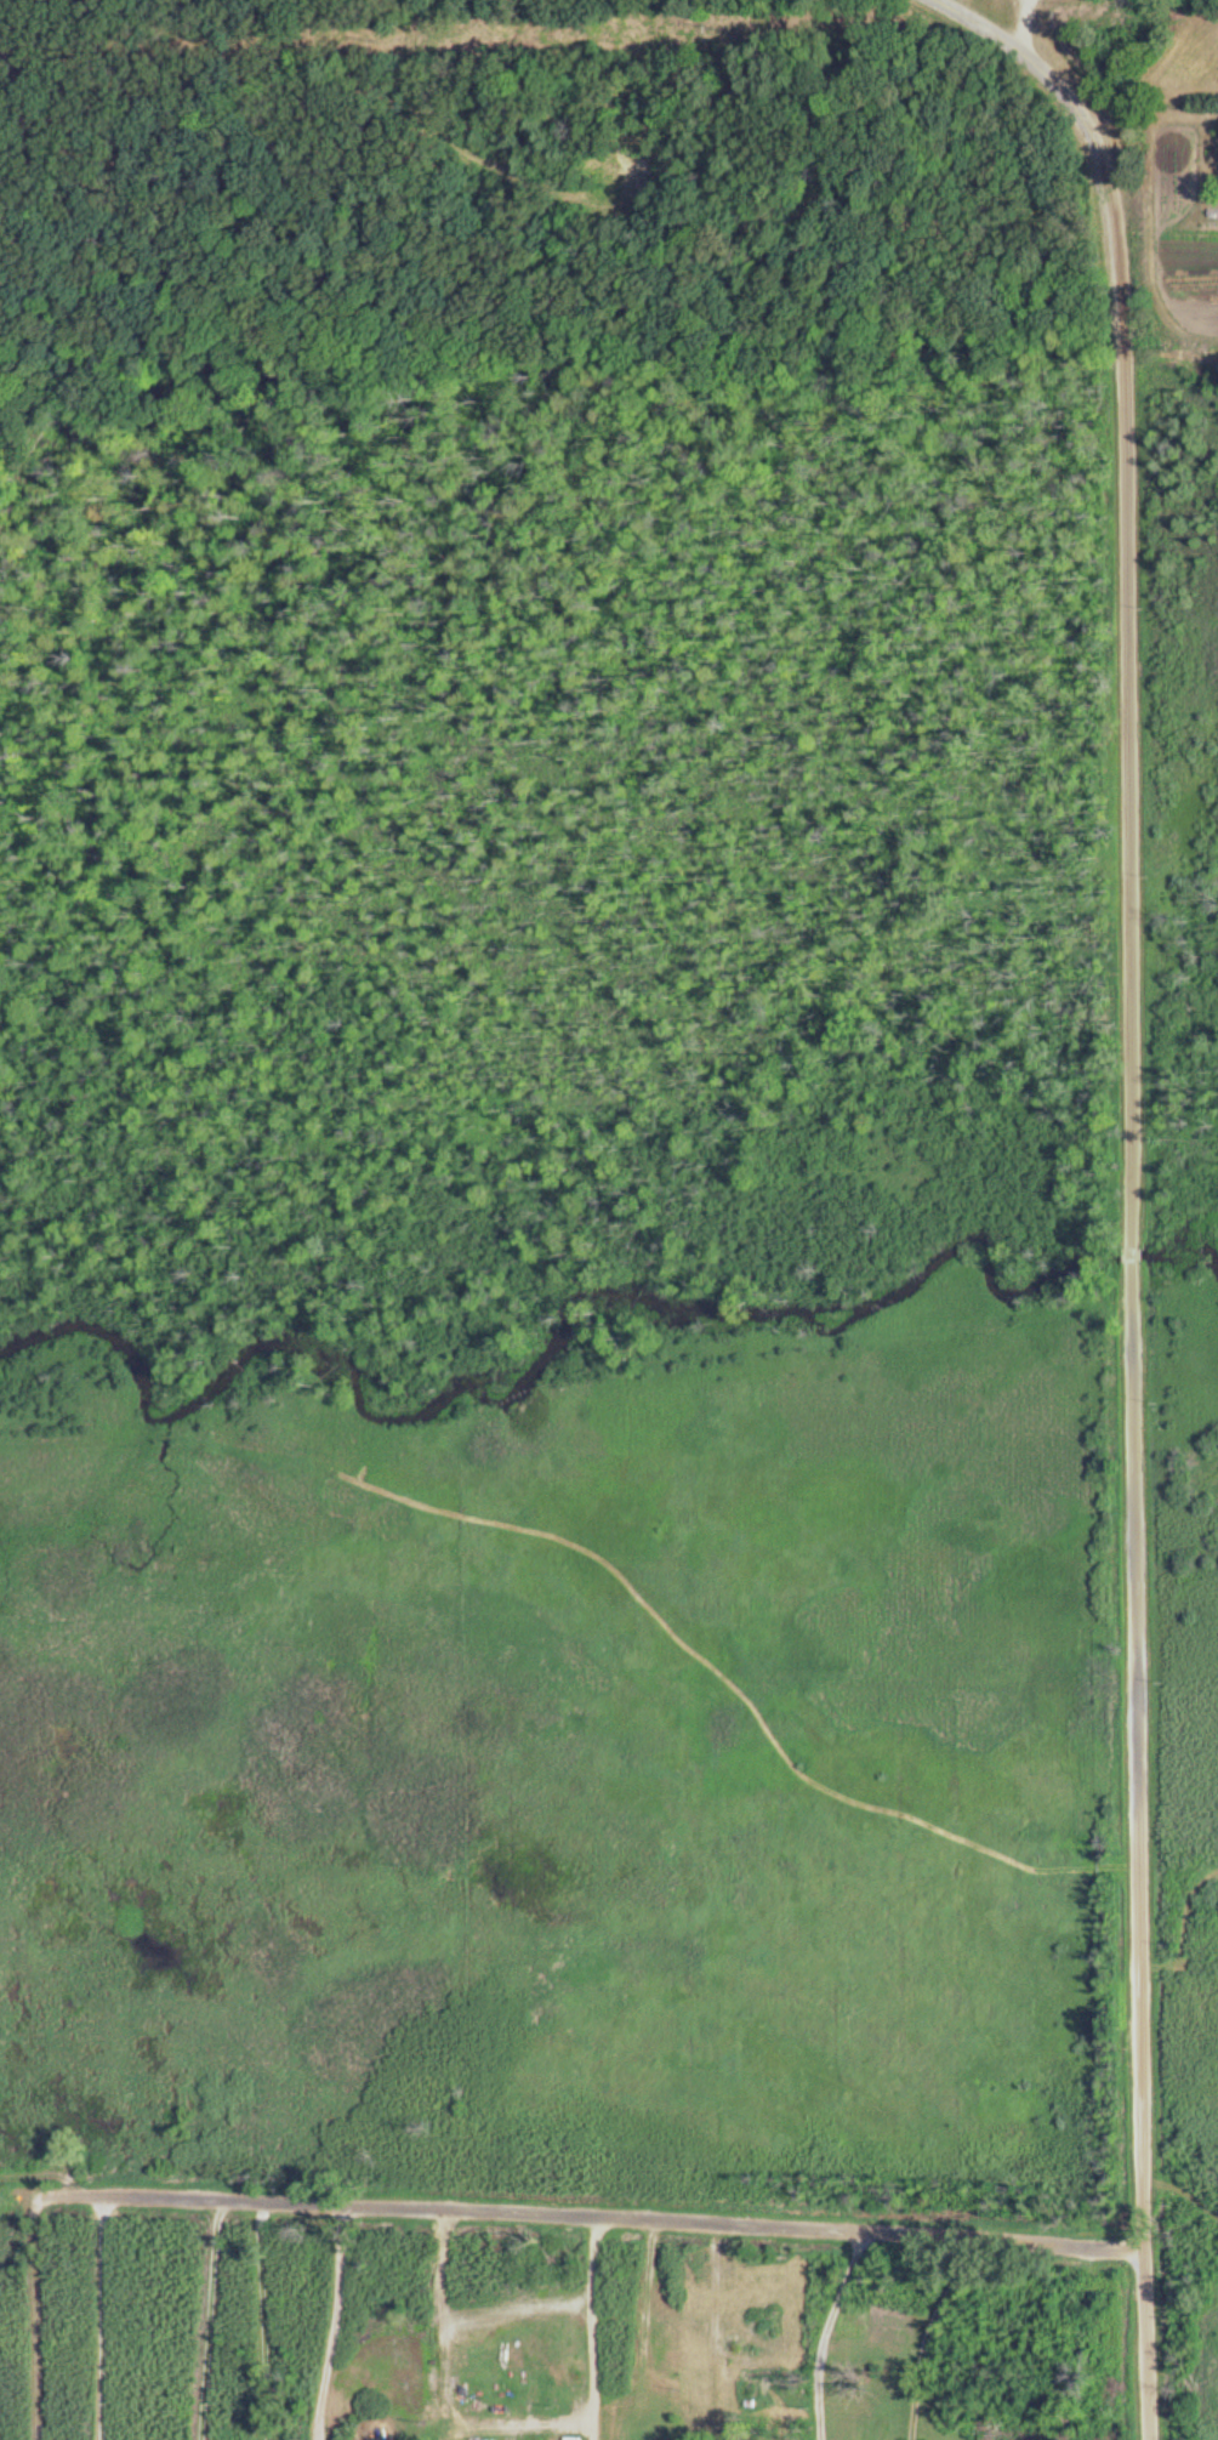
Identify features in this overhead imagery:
road: (1021, 18)
road: (1137, 1185)
road: (573, 2211)
road: (107, 2314)
road: (338, 2320)
road: (599, 2326)
road: (830, 2330)

